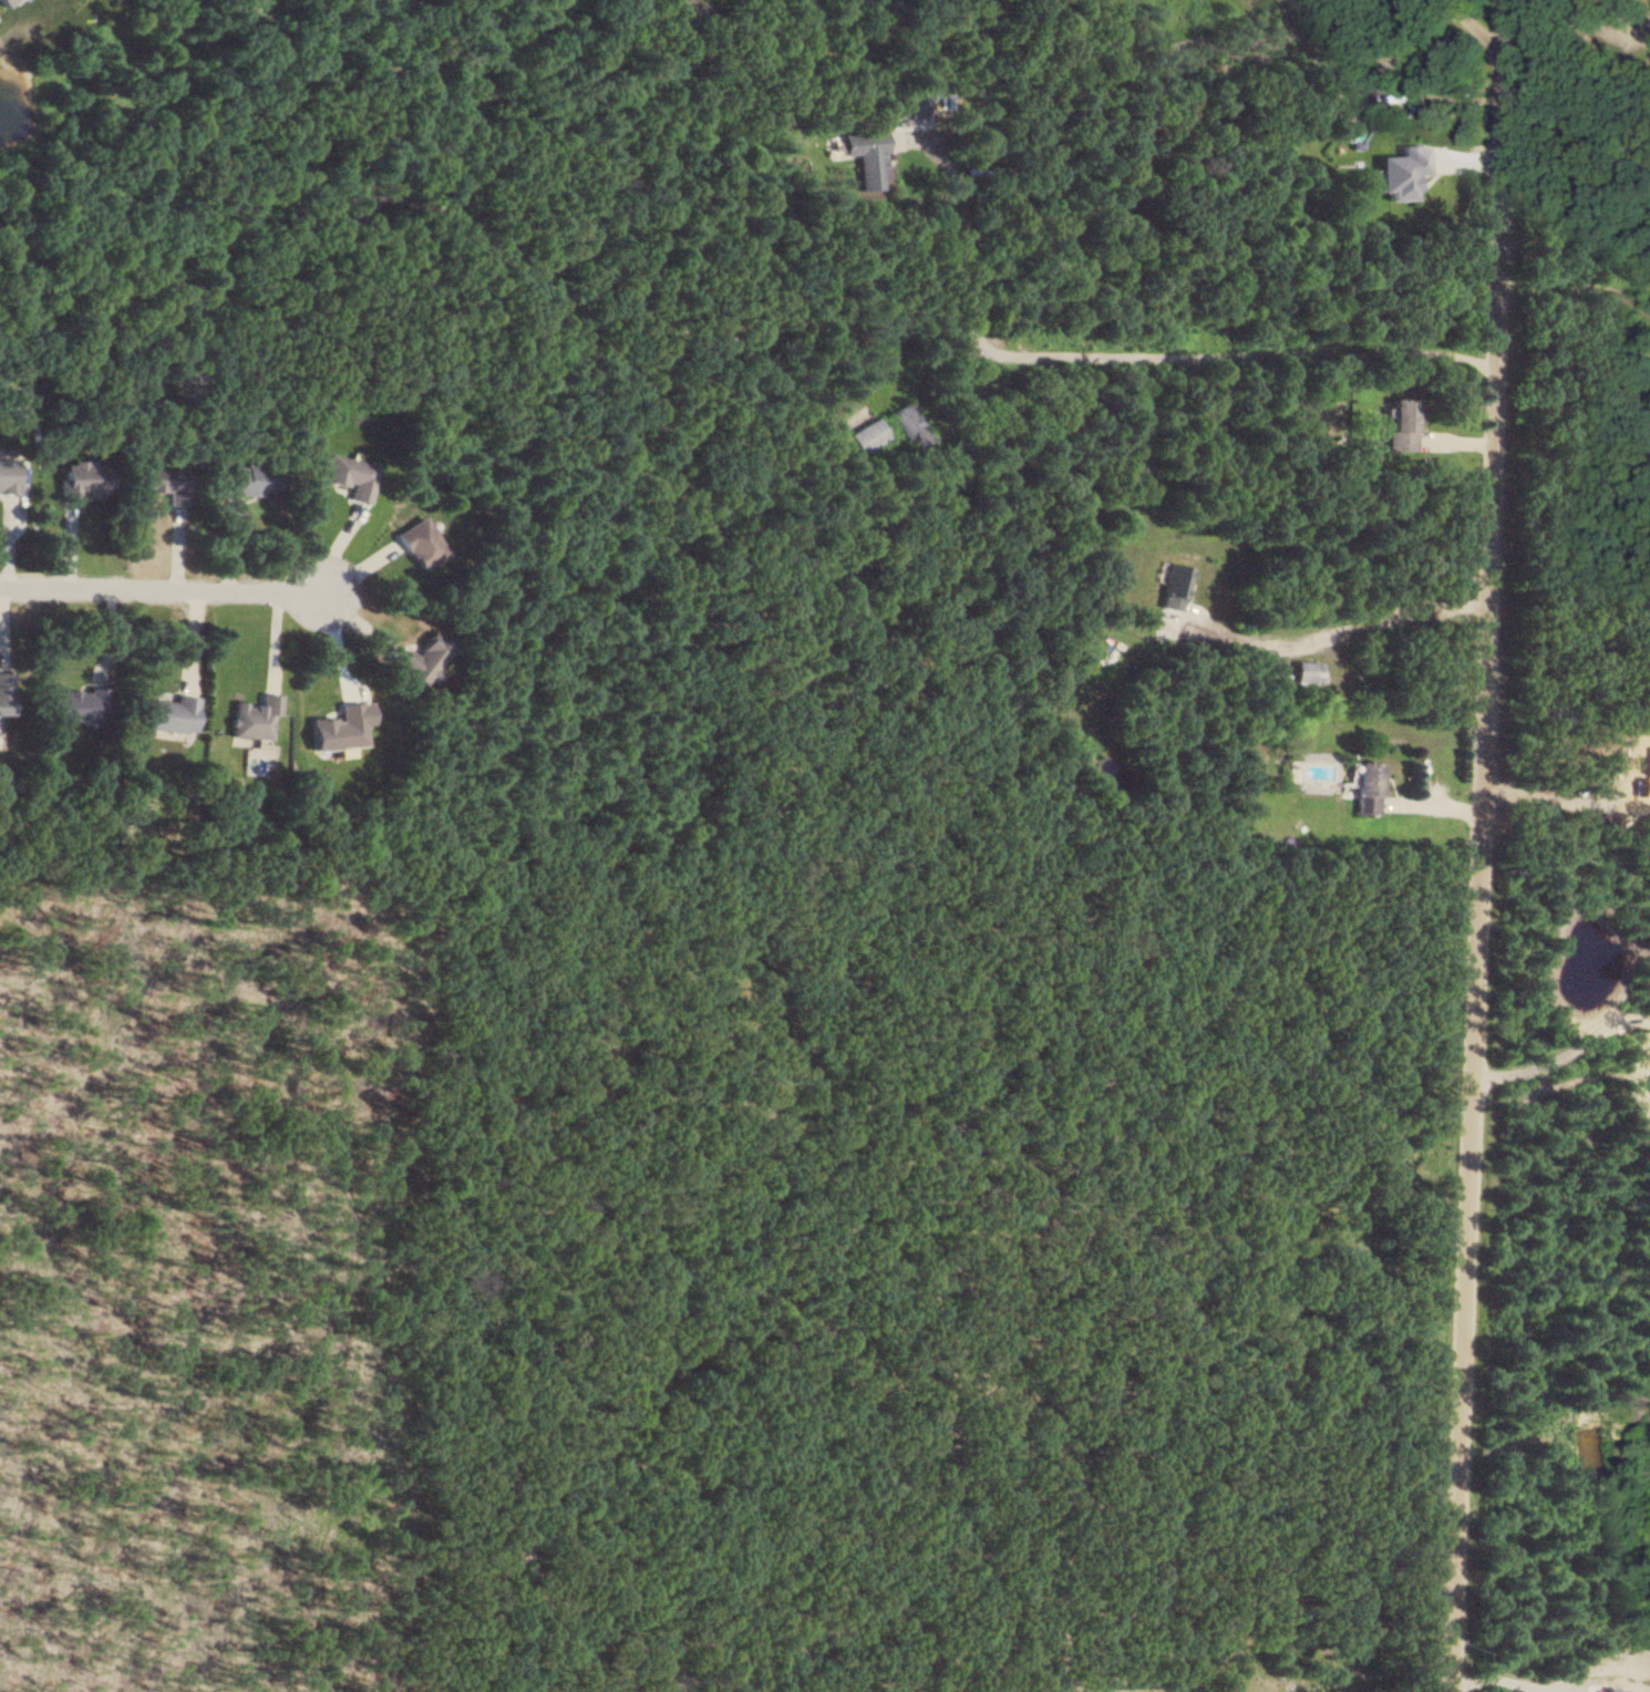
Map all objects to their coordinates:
building: (4, 3)
road: (1611, 21)
road: (1481, 29)
building: (909, 105)
building: (867, 158)
building: (1402, 172)
road: (963, 250)
road: (1226, 353)
building: (390, 395)
building: (1401, 423)
building: (908, 426)
building: (866, 435)
building: (7, 475)
building: (349, 475)
building: (84, 479)
building: (255, 479)
building: (166, 483)
building: (420, 543)
road: (162, 586)
building: (1171, 586)
road: (1341, 629)
building: (423, 657)
building: (1306, 671)
building: (3, 692)
building: (75, 705)
building: (169, 713)
building: (254, 716)
building: (1367, 786)
road: (1549, 799)
road: (1472, 845)
road: (1559, 1052)
road: (1606, 1671)
road: (1506, 1678)
road: (1567, 1689)

